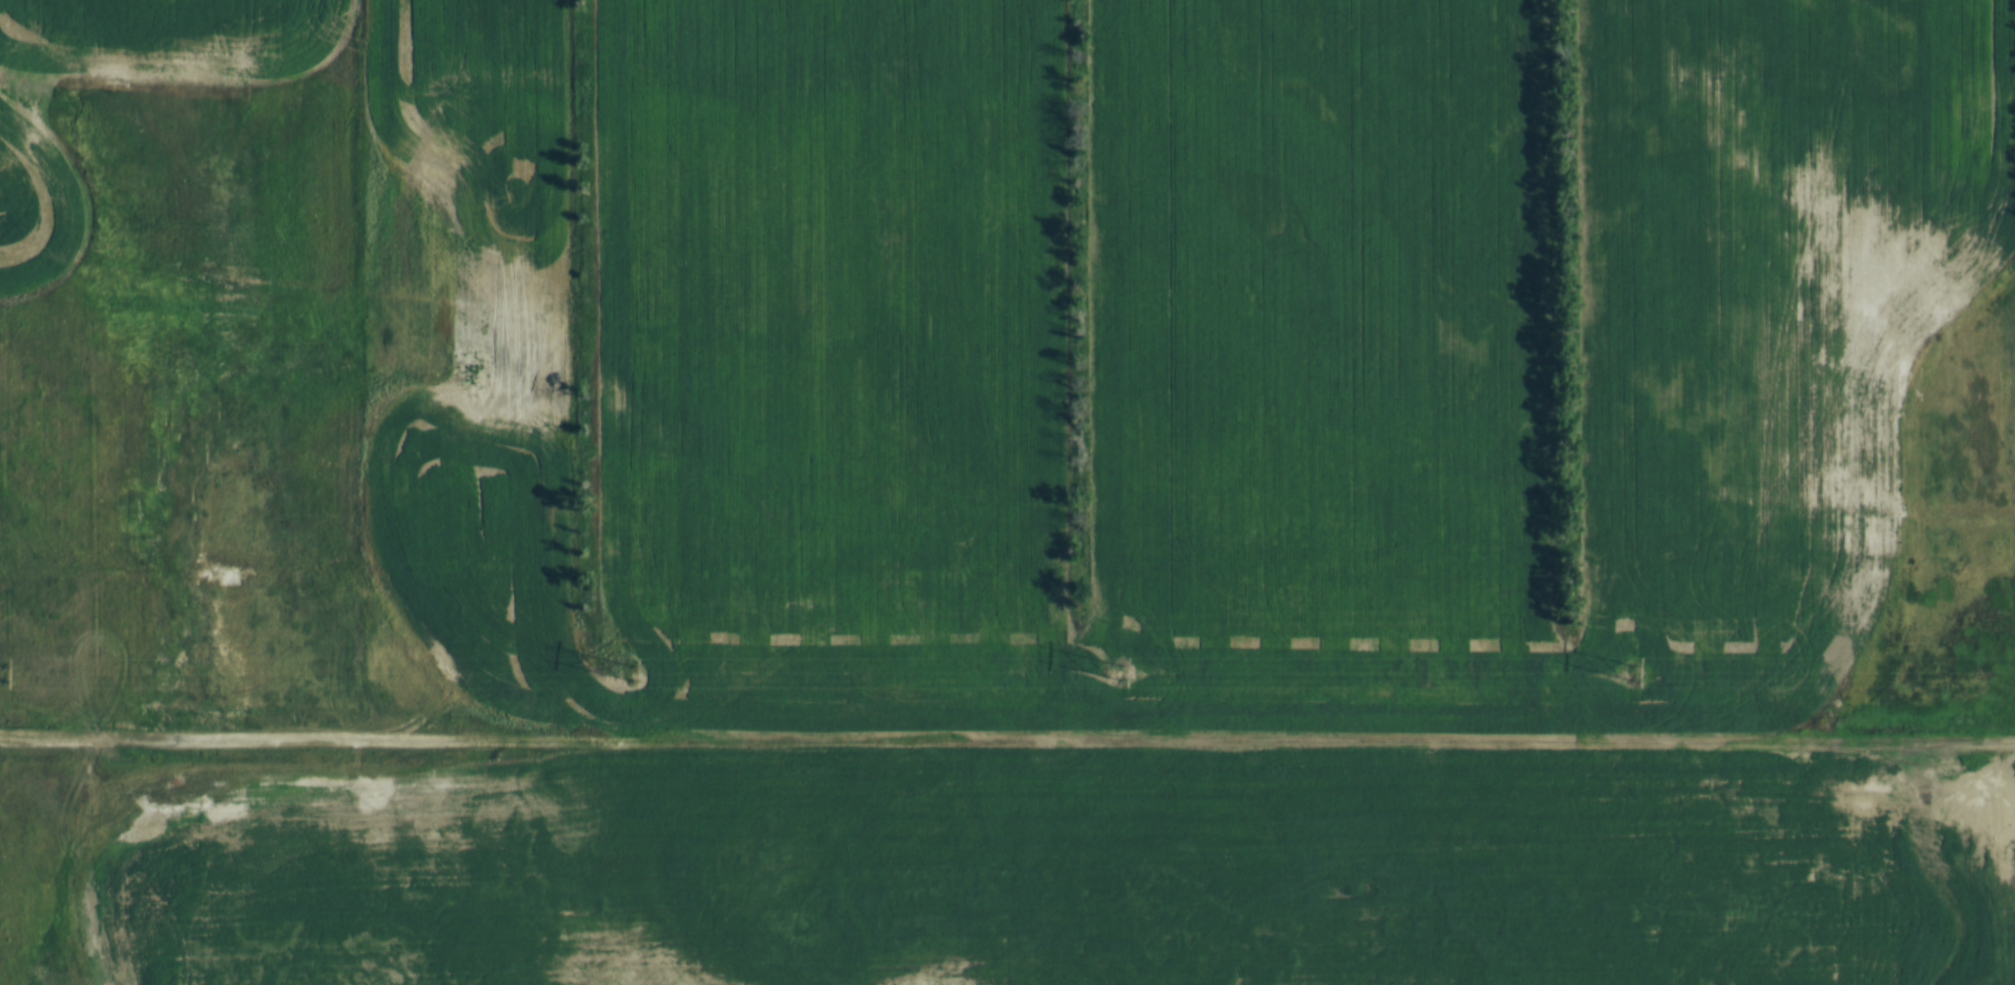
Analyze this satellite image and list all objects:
power tower: (621, 662)
power tower: (1110, 664)
power tower: (1624, 664)
road: (1007, 741)

